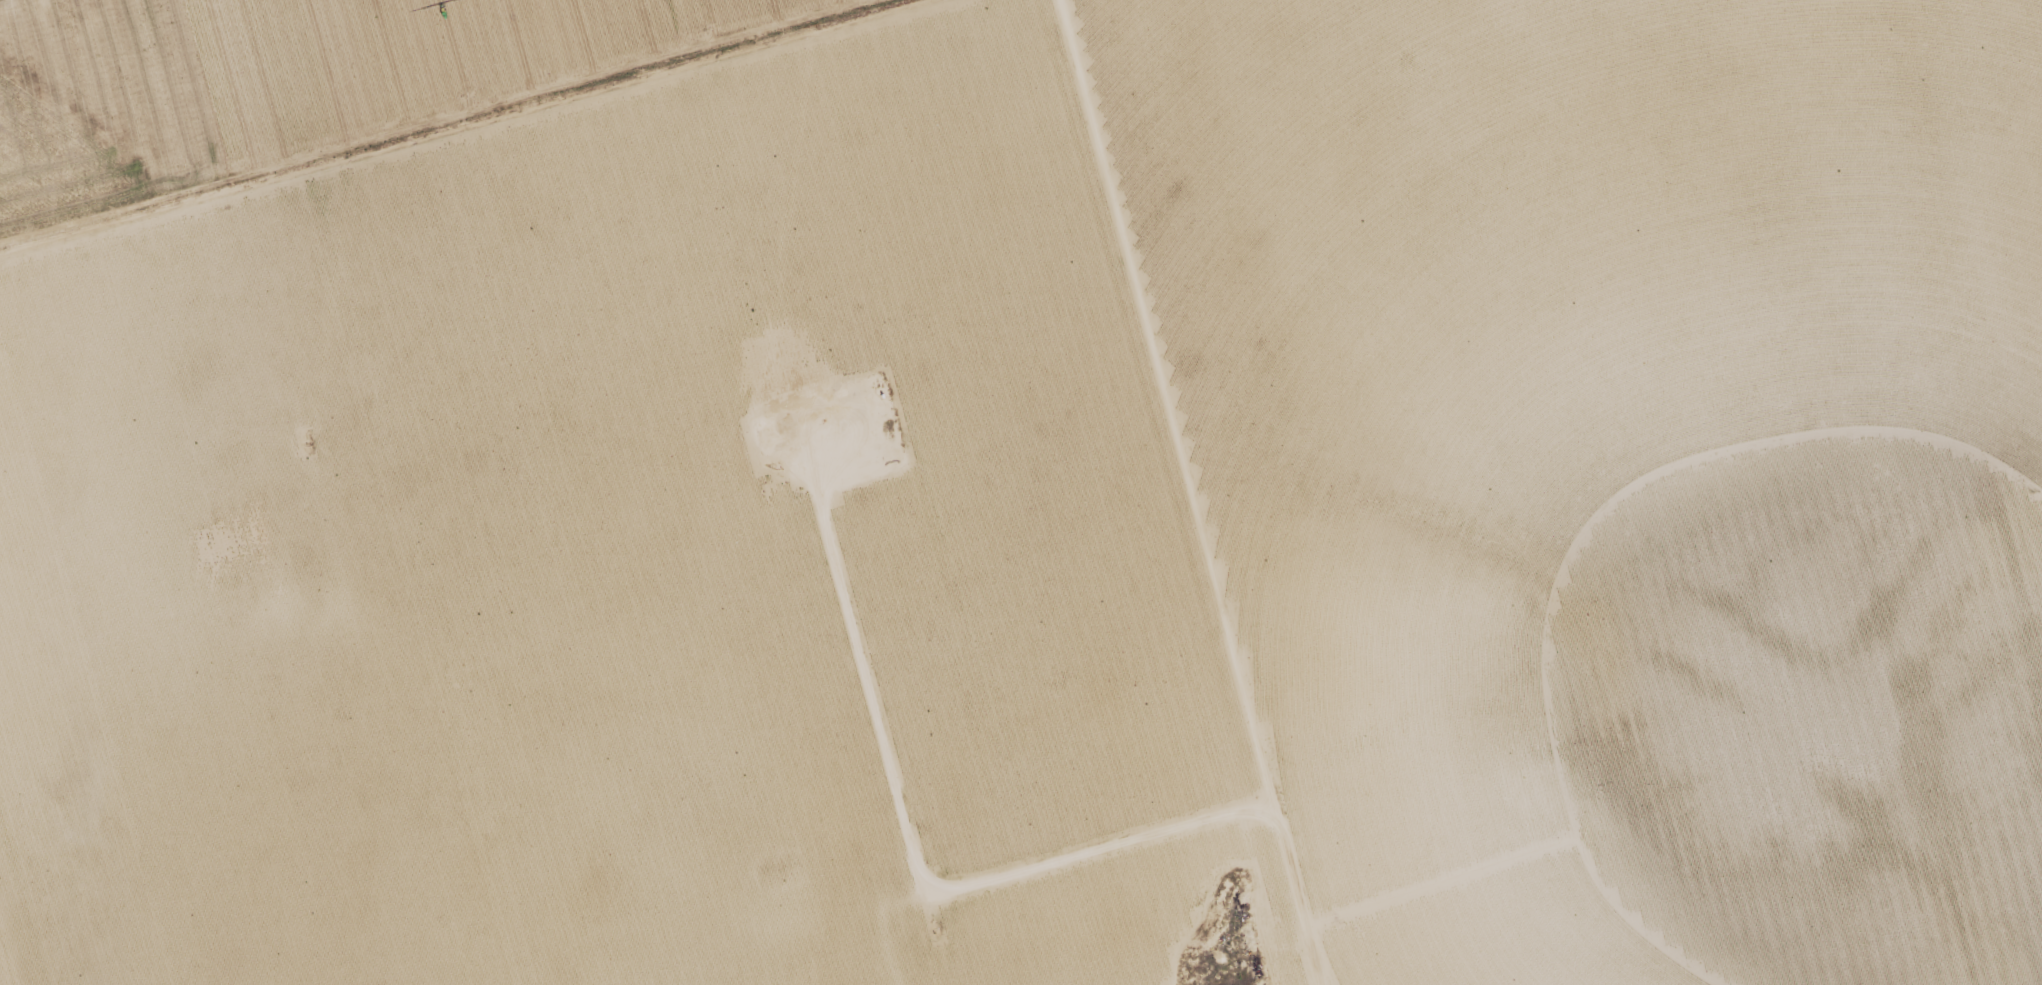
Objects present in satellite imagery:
road: (1172, 495)
road: (791, 905)

